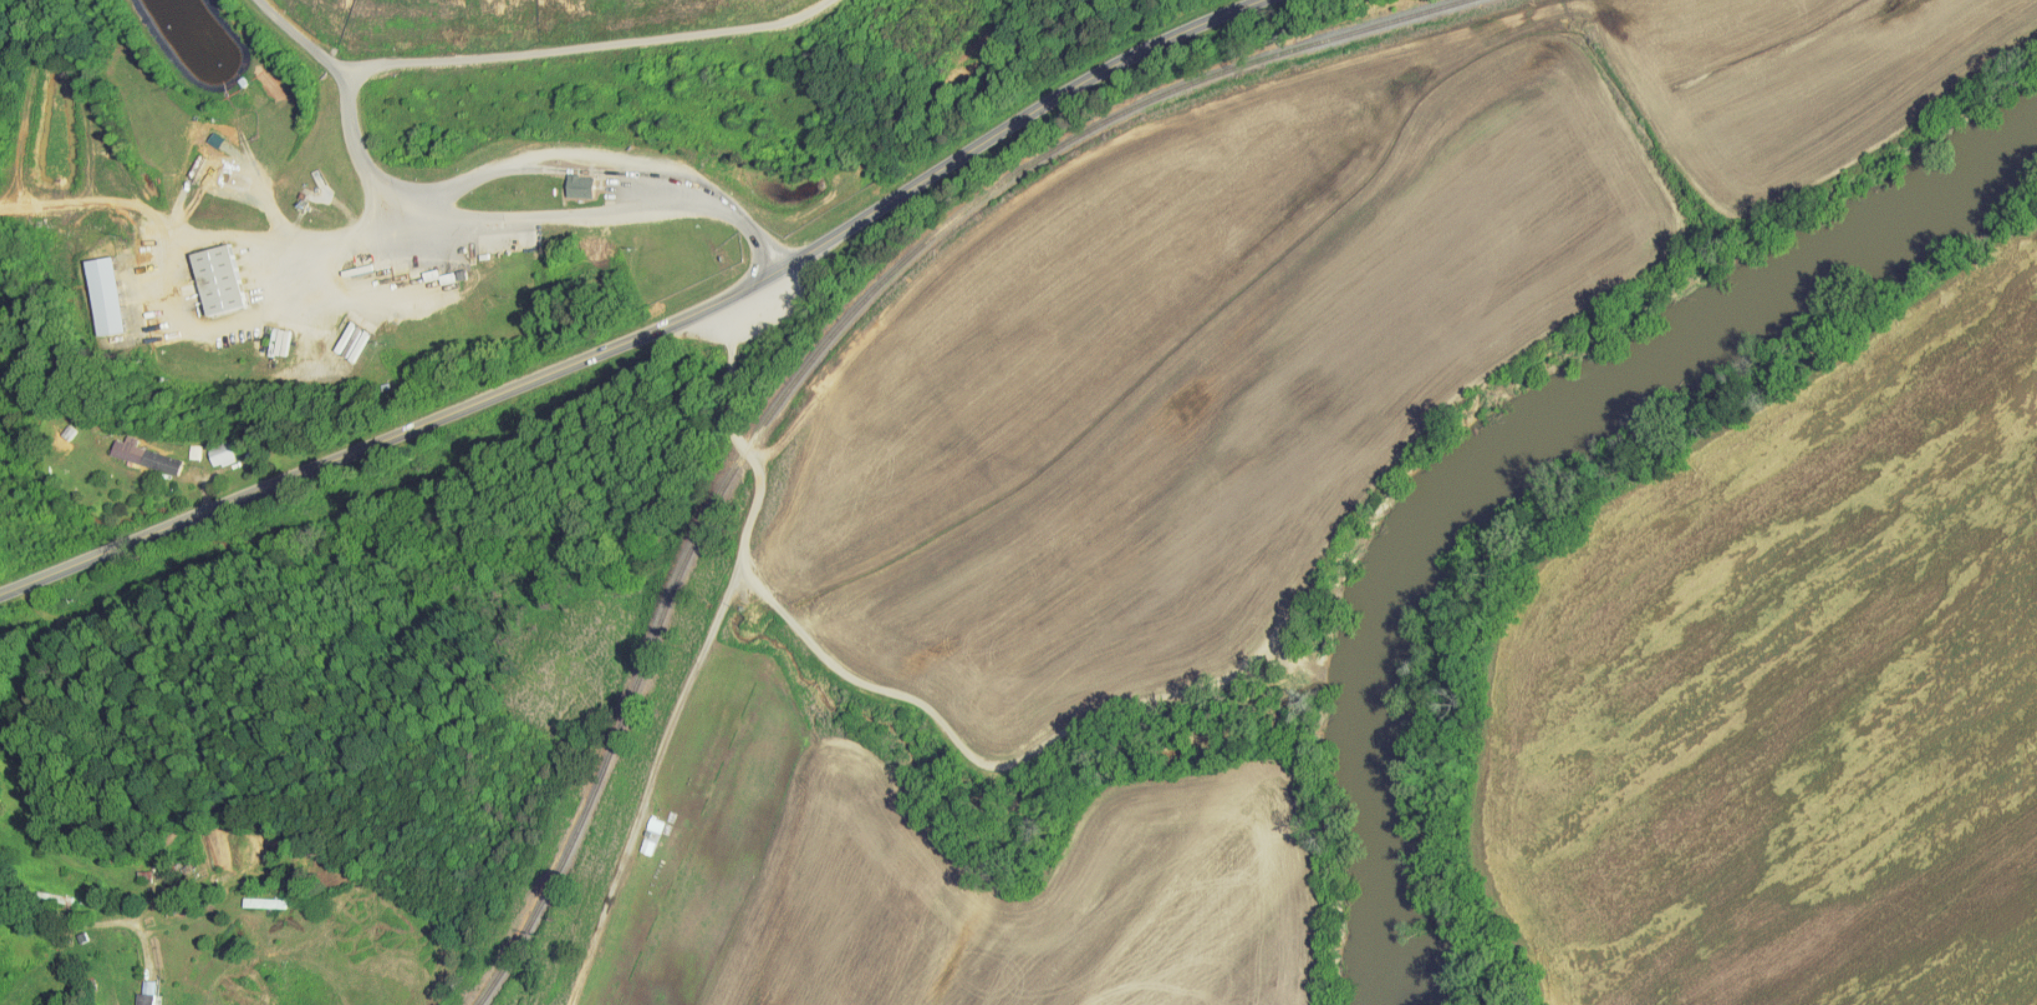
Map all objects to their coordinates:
road: (297, 32)
road: (578, 40)
building: (207, 134)
road: (349, 140)
road: (549, 146)
building: (574, 181)
road: (601, 209)
road: (158, 254)
building: (213, 275)
building: (101, 290)
road: (647, 332)
railway: (822, 347)
river: (1663, 360)
road: (740, 439)
building: (186, 446)
building: (212, 448)
building: (138, 450)
road: (1299, 659)
road: (1312, 667)
road: (971, 752)
road: (659, 755)
building: (646, 818)
river: (1382, 839)
building: (639, 840)
road: (28, 892)
building: (257, 896)
building: (138, 991)

